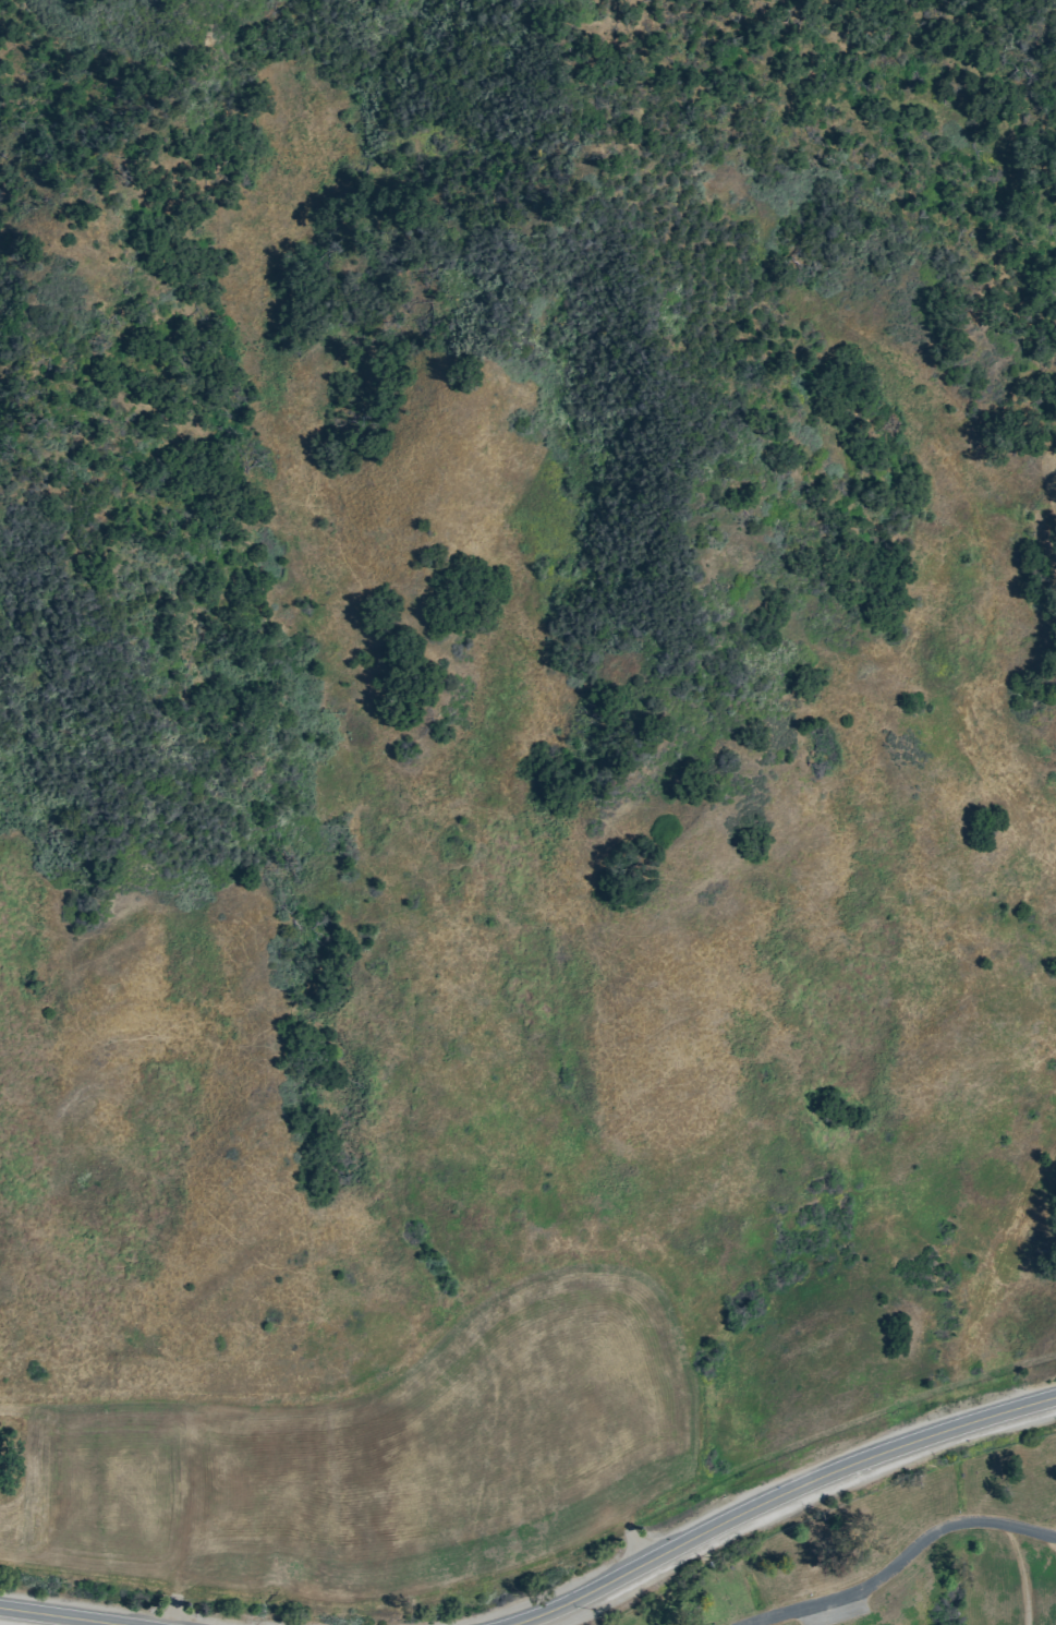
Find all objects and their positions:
road: (779, 1498)
park: (873, 1544)
road: (903, 1564)
road: (62, 1616)
park: (41, 1618)

